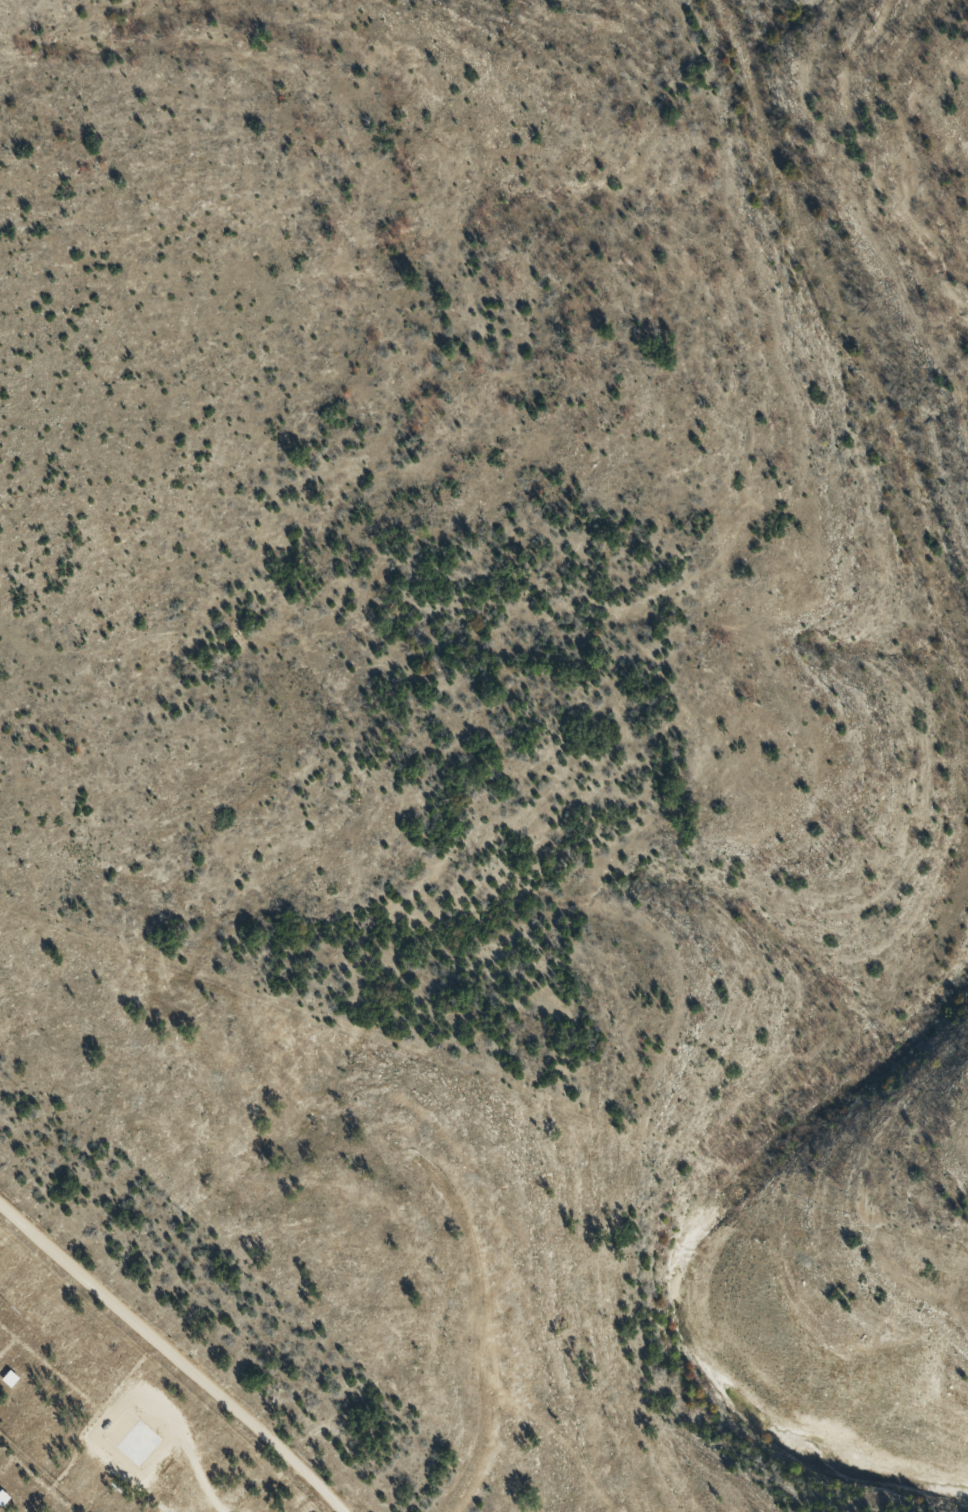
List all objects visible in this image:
road: (157, 1365)

